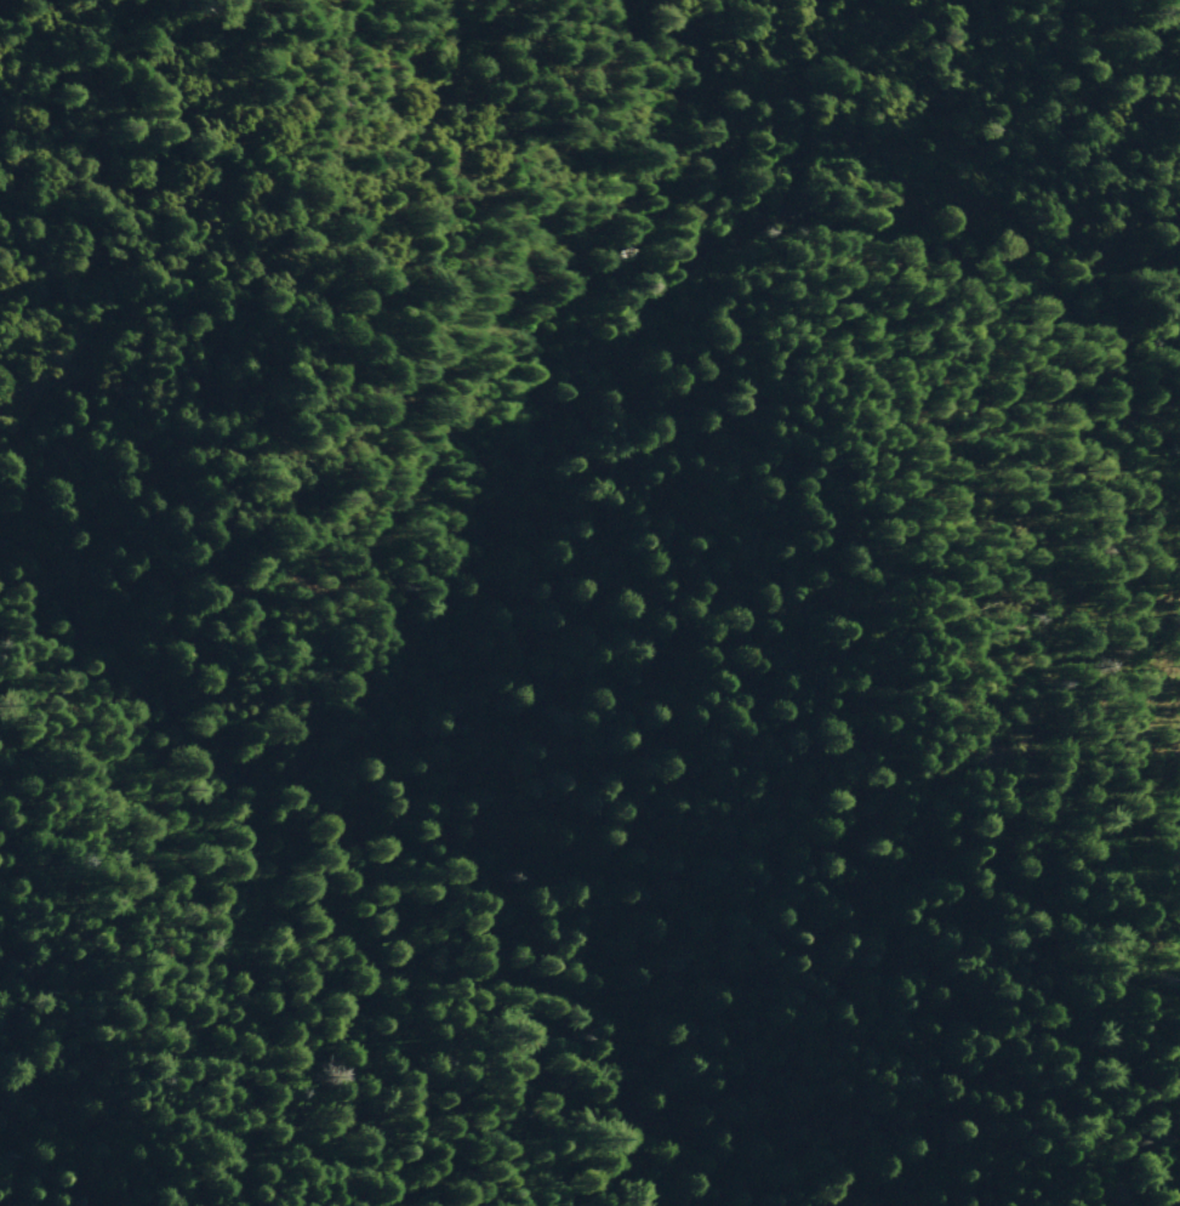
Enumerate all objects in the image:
road: (502, 136)
road: (645, 198)
road: (129, 313)

